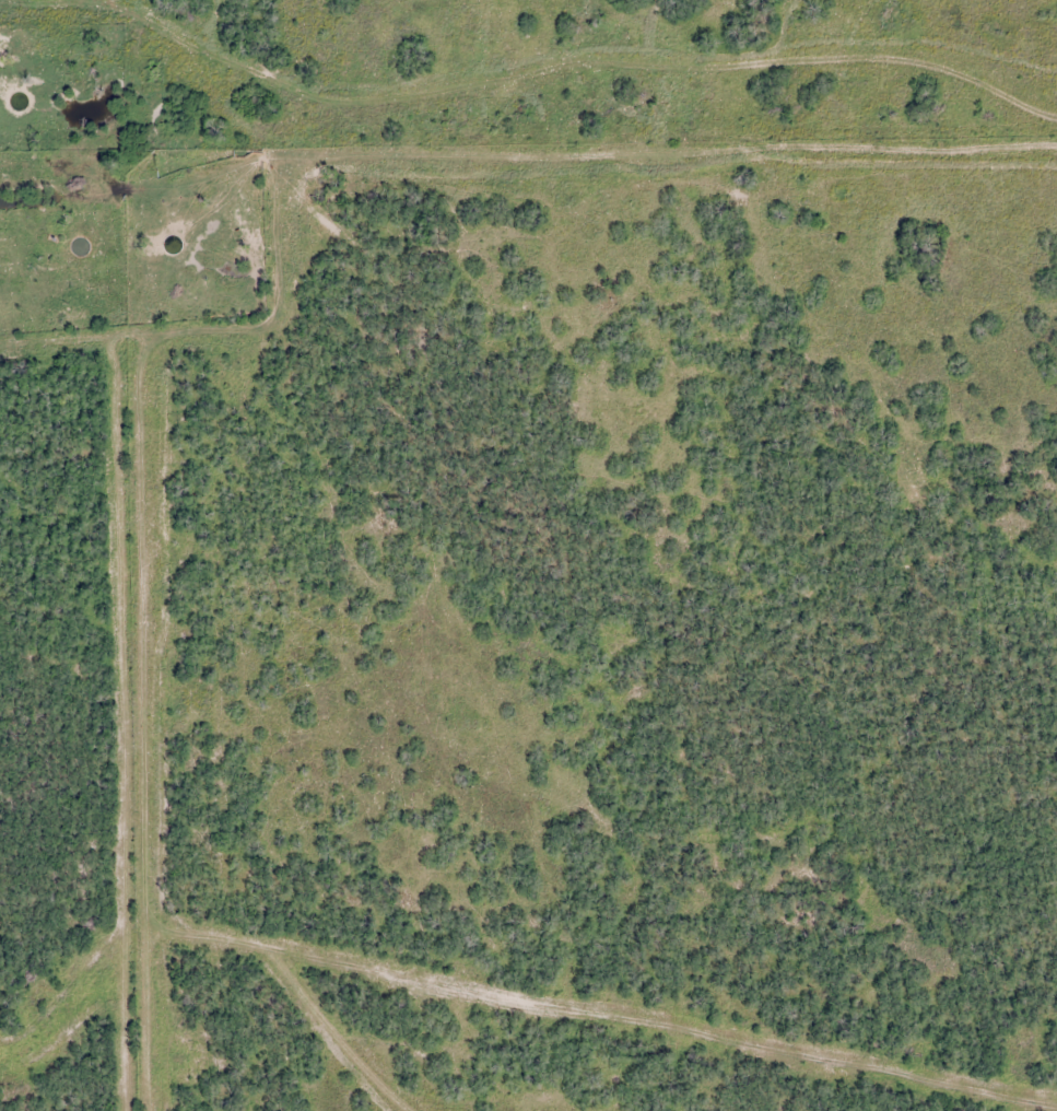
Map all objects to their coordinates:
road: (14, 208)

